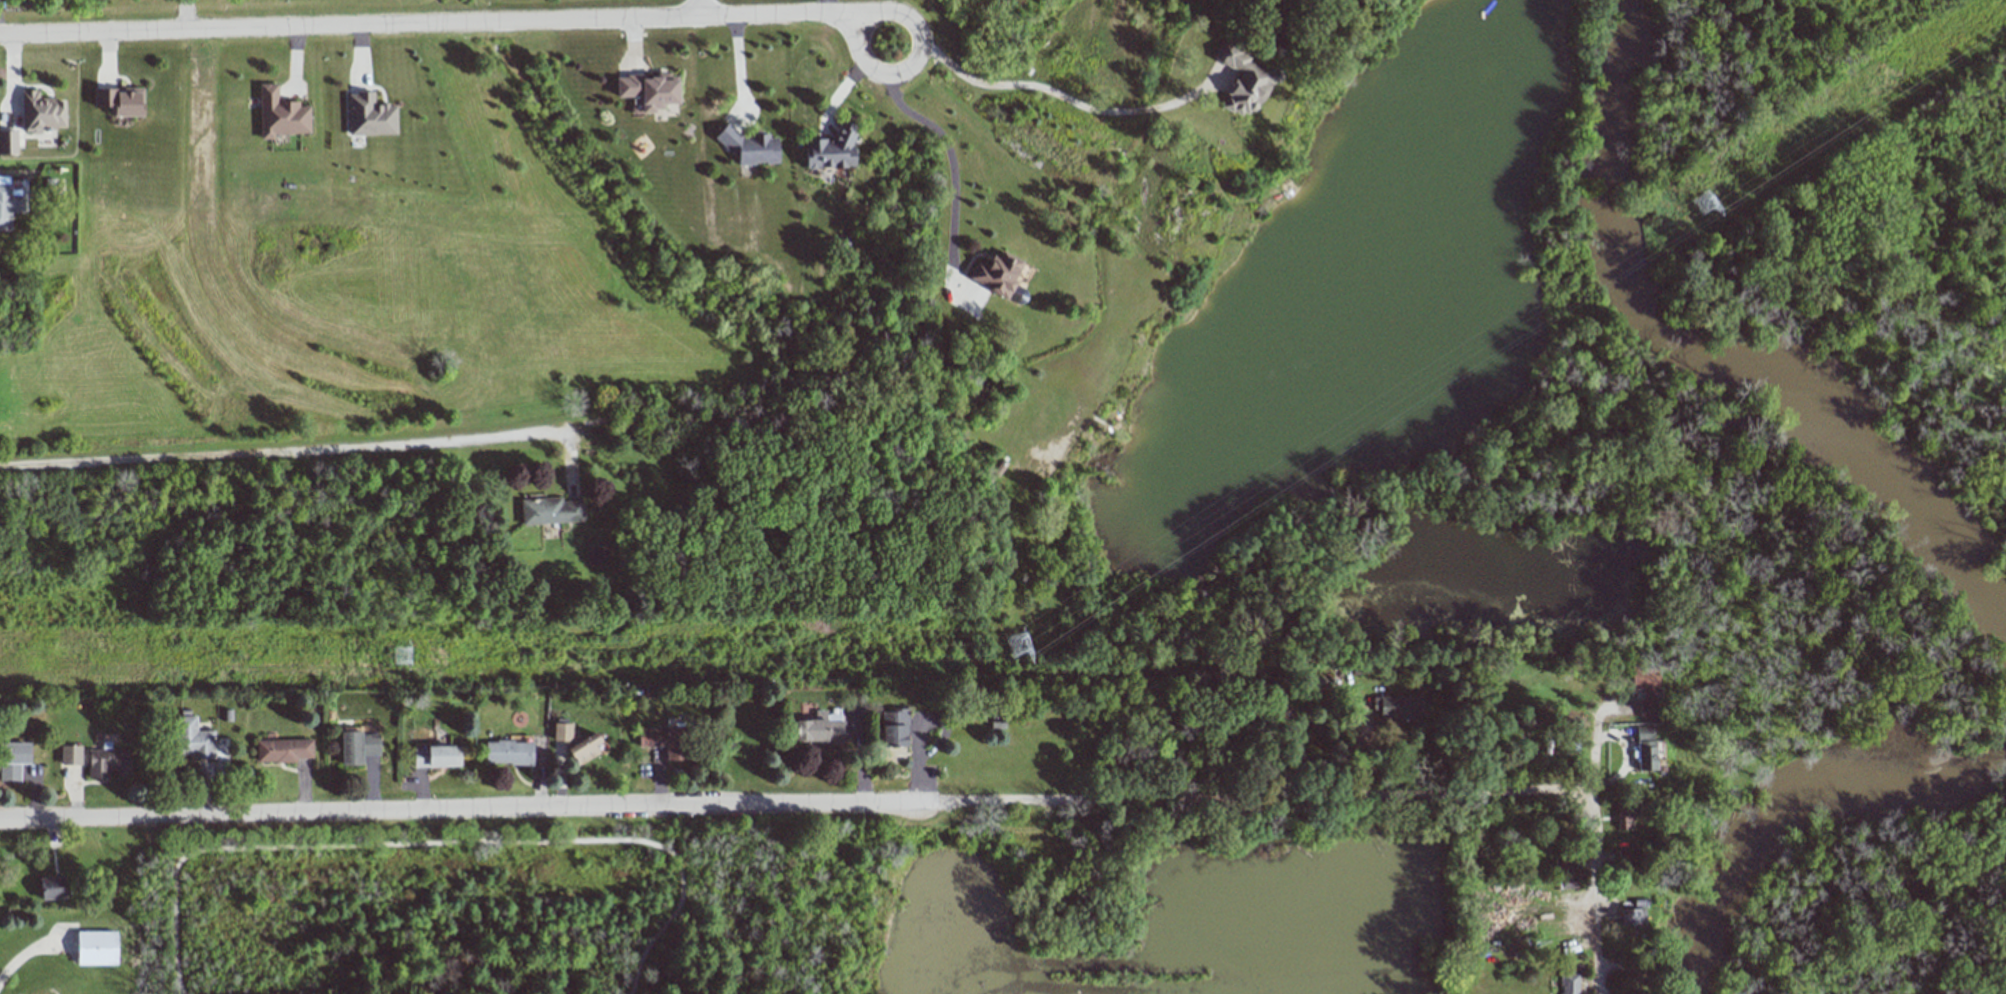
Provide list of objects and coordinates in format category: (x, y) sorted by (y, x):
road: (696, 7)
road: (183, 10)
road: (430, 17)
road: (860, 19)
road: (738, 68)
road: (16, 76)
building: (1243, 80)
building: (648, 90)
road: (1059, 96)
building: (120, 100)
building: (41, 112)
building: (280, 114)
building: (369, 115)
building: (8, 142)
building: (748, 146)
building: (831, 149)
road: (951, 165)
building: (8, 205)
power tower: (1701, 214)
building: (995, 274)
river: (1709, 352)
road: (284, 442)
building: (550, 510)
power tower: (1024, 655)
building: (1646, 689)
building: (1397, 707)
building: (893, 727)
building: (819, 728)
road: (1602, 728)
building: (562, 732)
building: (664, 738)
building: (191, 739)
building: (357, 747)
building: (1645, 748)
building: (584, 749)
building: (282, 750)
building: (508, 752)
building: (70, 755)
building: (436, 756)
building: (12, 759)
building: (108, 762)
road: (1655, 793)
road: (800, 801)
river: (1794, 802)
building: (1624, 816)
road: (434, 843)
building: (1624, 855)
building: (1563, 863)
road: (1600, 878)
building: (1568, 882)
building: (51, 887)
park: (838, 911)
building: (1631, 916)
building: (96, 947)
building: (1567, 981)
building: (1636, 993)

